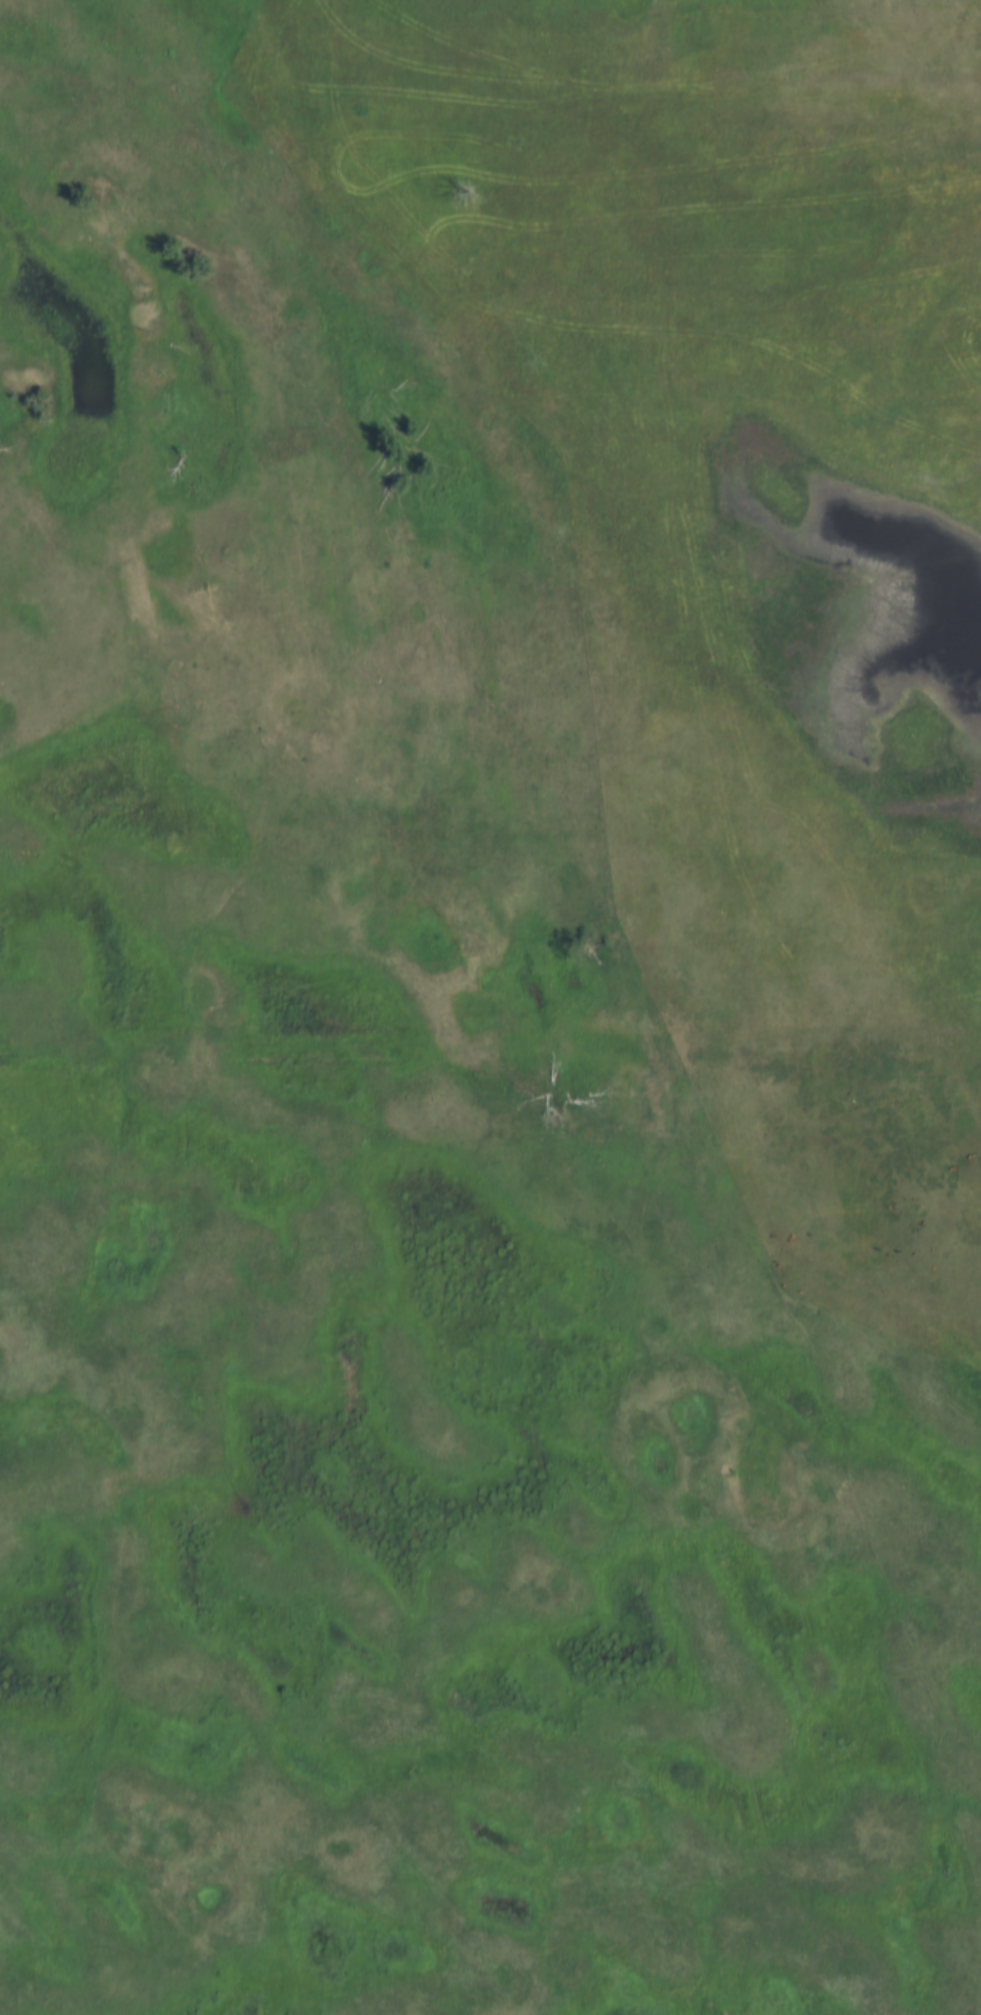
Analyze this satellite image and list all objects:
road: (612, 114)

